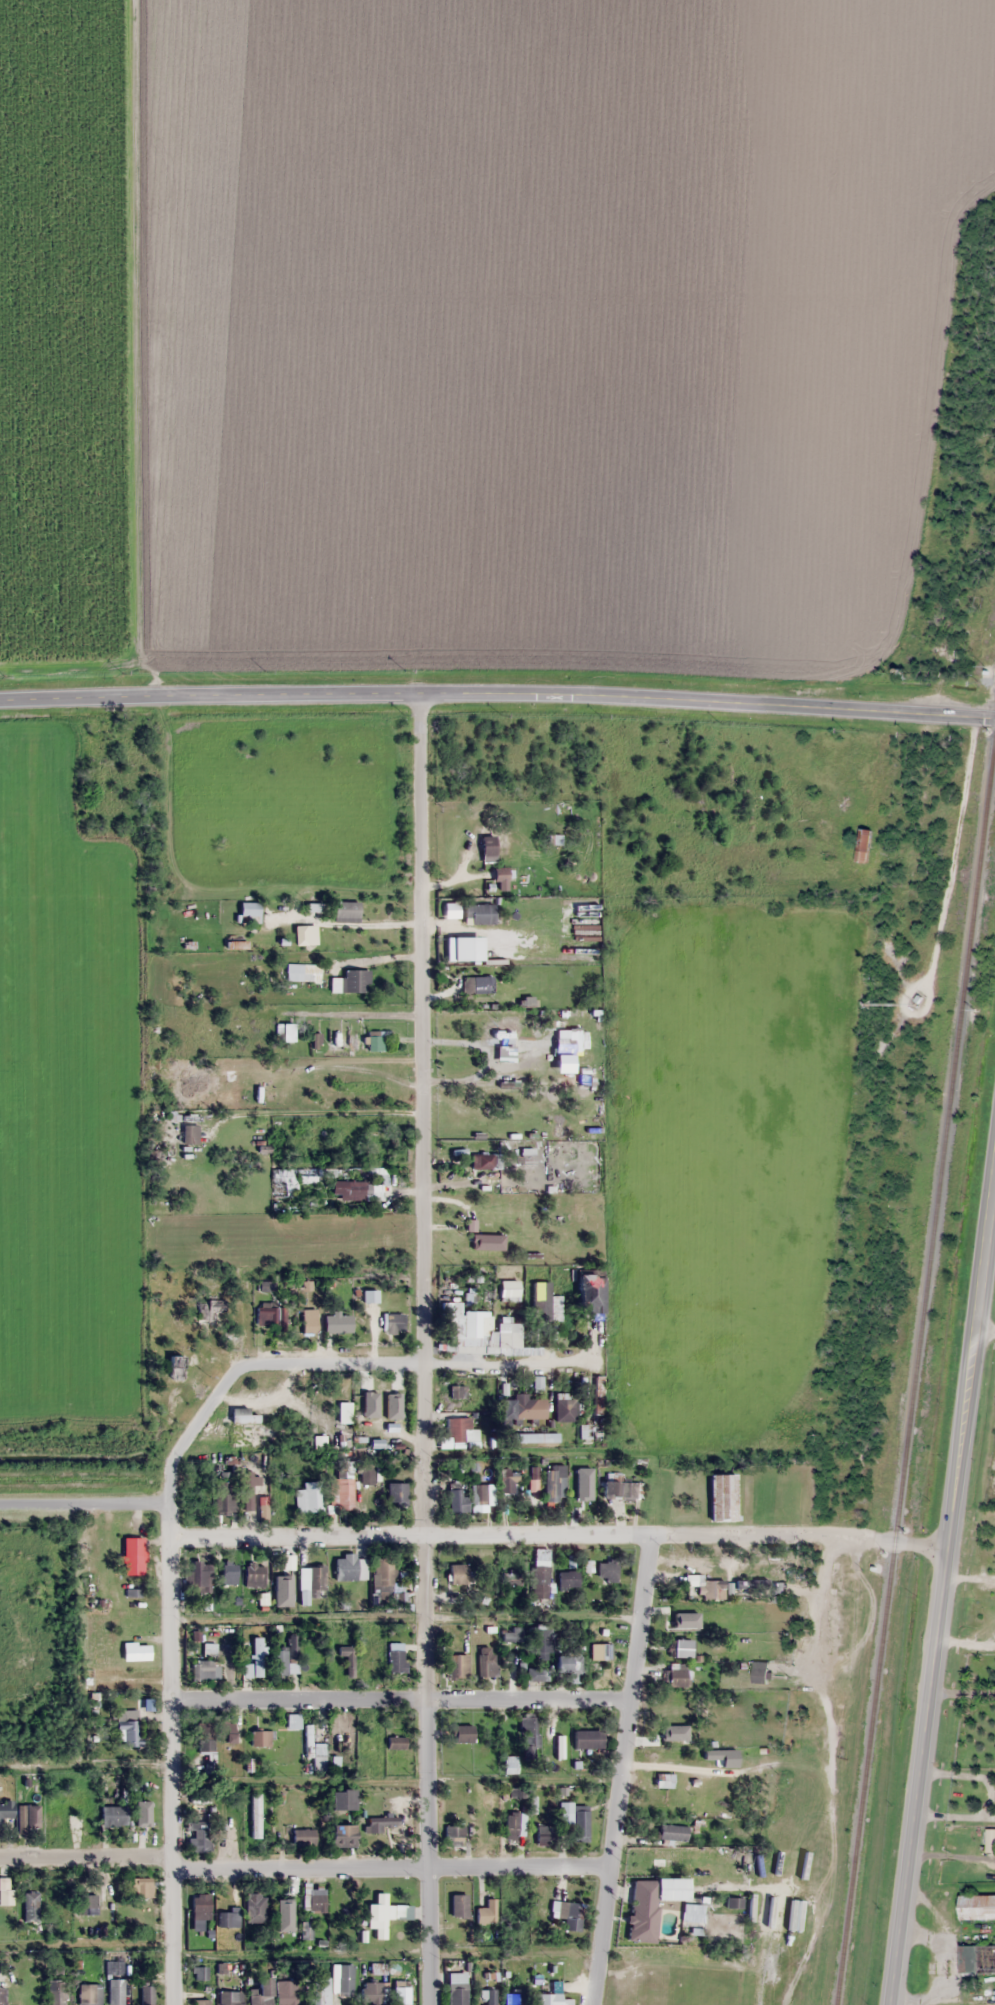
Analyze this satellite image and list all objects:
road: (497, 691)
building: (846, 803)
building: (486, 844)
building: (862, 845)
building: (345, 909)
building: (248, 912)
building: (478, 913)
building: (299, 934)
building: (299, 972)
building: (354, 980)
building: (475, 984)
building: (500, 1029)
building: (562, 1041)
building: (510, 1068)
building: (223, 1084)
building: (511, 1106)
building: (484, 1161)
building: (285, 1182)
building: (349, 1190)
building: (487, 1237)
building: (508, 1290)
building: (589, 1292)
road: (979, 1297)
building: (540, 1300)
building: (209, 1308)
building: (270, 1314)
building: (309, 1320)
building: (337, 1322)
building: (393, 1322)
building: (478, 1333)
road: (422, 1349)
road: (507, 1362)
railway: (915, 1375)
road: (236, 1377)
building: (365, 1389)
building: (397, 1389)
building: (457, 1391)
building: (597, 1395)
building: (564, 1409)
building: (360, 1428)
building: (590, 1431)
building: (460, 1434)
building: (534, 1437)
building: (218, 1470)
building: (365, 1473)
building: (534, 1478)
building: (506, 1480)
building: (555, 1483)
building: (282, 1489)
building: (620, 1490)
building: (341, 1491)
building: (583, 1491)
building: (396, 1492)
building: (478, 1494)
building: (223, 1497)
building: (308, 1497)
building: (723, 1497)
building: (456, 1500)
road: (81, 1504)
road: (559, 1536)
building: (132, 1556)
building: (350, 1569)
building: (457, 1572)
building: (610, 1572)
building: (382, 1573)
building: (541, 1573)
building: (283, 1574)
building: (200, 1576)
building: (228, 1576)
building: (253, 1576)
building: (510, 1577)
building: (568, 1580)
building: (313, 1581)
building: (749, 1584)
building: (706, 1586)
building: (715, 1617)
building: (511, 1634)
building: (540, 1643)
building: (743, 1643)
building: (680, 1648)
building: (135, 1651)
building: (601, 1652)
building: (256, 1656)
building: (346, 1658)
building: (395, 1659)
building: (310, 1661)
building: (282, 1662)
building: (486, 1662)
building: (567, 1664)
building: (457, 1666)
building: (201, 1670)
building: (760, 1672)
building: (536, 1673)
building: (679, 1675)
road: (399, 1699)
road: (926, 1713)
building: (293, 1721)
building: (126, 1729)
building: (673, 1732)
building: (224, 1733)
building: (462, 1733)
building: (528, 1736)
building: (260, 1738)
building: (588, 1739)
building: (204, 1740)
building: (553, 1740)
building: (395, 1742)
building: (314, 1752)
road: (621, 1770)
road: (170, 1773)
building: (663, 1780)
building: (341, 1800)
building: (5, 1809)
building: (255, 1815)
building: (113, 1816)
building: (140, 1816)
building: (574, 1817)
building: (27, 1819)
building: (62, 1822)
building: (381, 1823)
building: (514, 1825)
building: (671, 1832)
building: (544, 1834)
building: (341, 1835)
building: (453, 1835)
building: (198, 1836)
building: (302, 1837)
building: (989, 1839)
road: (85, 1858)
building: (669, 1858)
road: (390, 1869)
building: (141, 1887)
building: (313, 1900)
building: (85, 1905)
building: (29, 1906)
building: (199, 1906)
building: (254, 1907)
building: (977, 1907)
building: (286, 1912)
building: (486, 1912)
building: (379, 1914)
building: (569, 1915)
building: (223, 1919)
building: (305, 1930)
building: (974, 1960)
building: (456, 1988)
building: (55, 1992)
building: (115, 1992)
building: (286, 1992)
building: (372, 1992)
building: (401, 1992)
building: (146, 1993)
building: (261, 1993)
building: (89, 1994)
building: (2, 1996)
building: (230, 1997)
building: (489, 1997)
building: (514, 1997)
building: (550, 1999)
building: (200, 2002)

